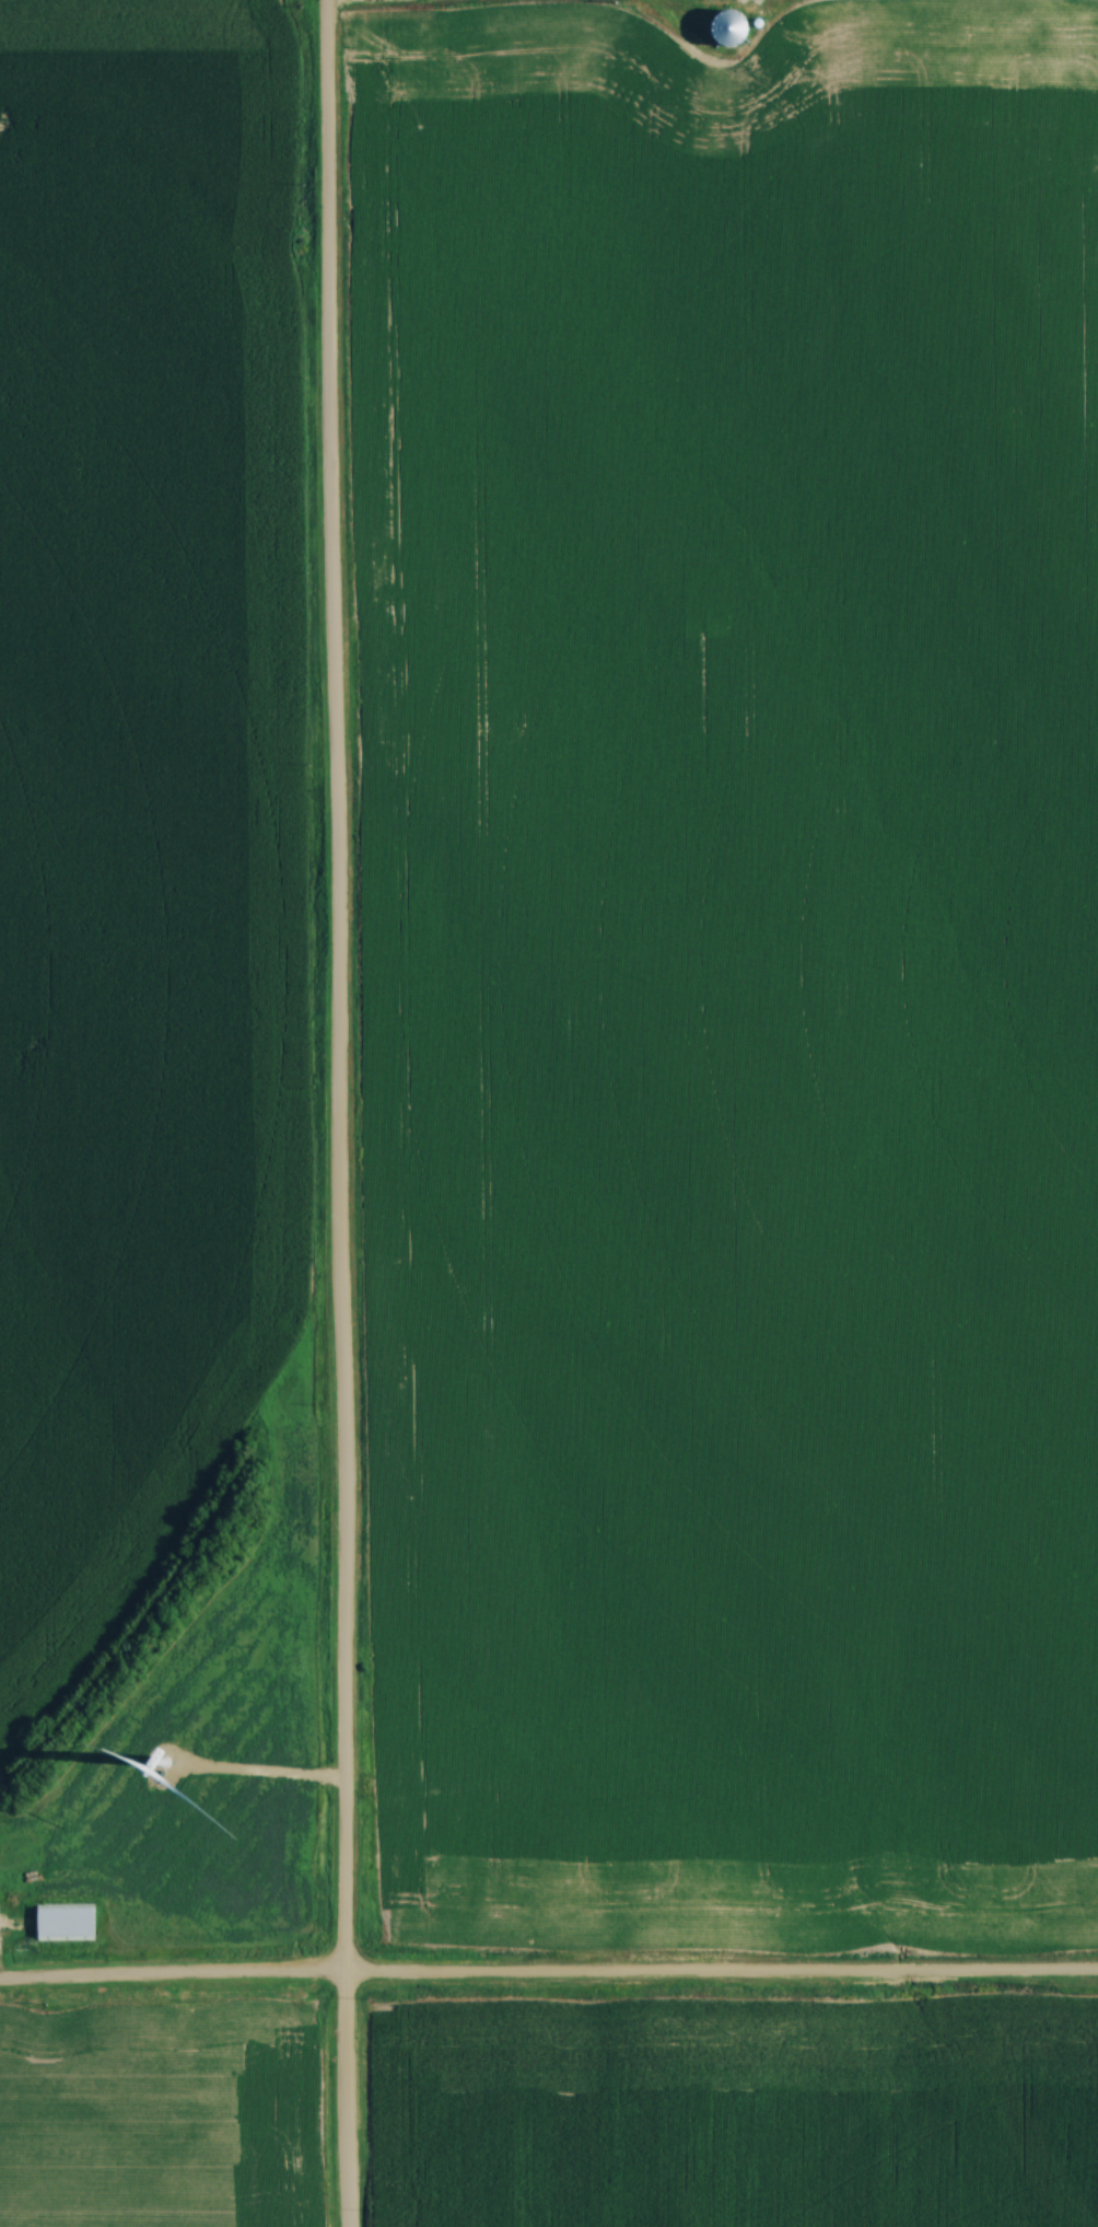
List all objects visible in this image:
road: (711, 0)
road: (338, 1113)
wind turbine: (166, 1761)
building: (69, 1923)
road: (548, 1979)
building: (82, 2025)

